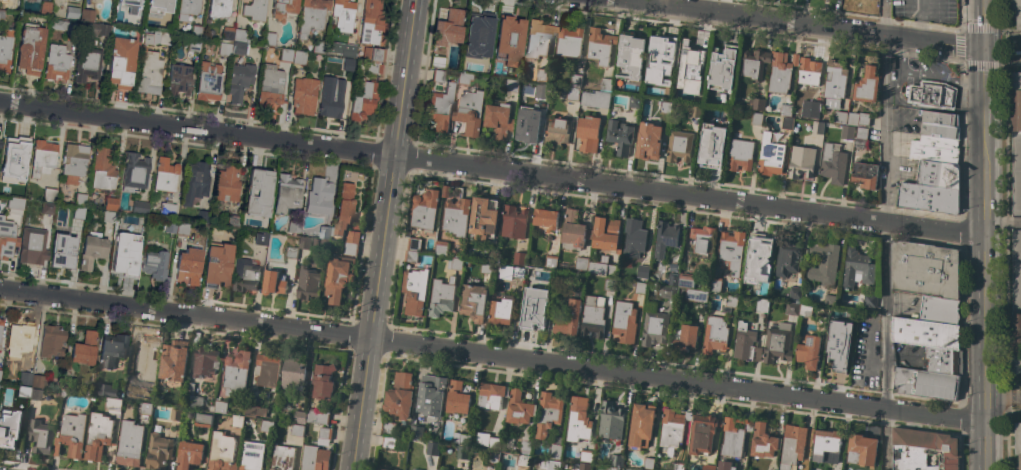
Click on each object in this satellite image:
building: (854, 0)
building: (870, 0)
building: (11, 4)
building: (131, 6)
building: (158, 6)
building: (189, 6)
building: (45, 7)
building: (219, 8)
building: (255, 9)
building: (283, 9)
building: (1016, 11)
building: (72, 12)
building: (87, 14)
building: (342, 15)
building: (312, 16)
road: (920, 21)
building: (372, 23)
road: (795, 25)
building: (62, 26)
building: (448, 27)
building: (94, 28)
building: (196, 28)
building: (234, 34)
building: (478, 35)
building: (156, 37)
building: (270, 38)
building: (538, 38)
building: (509, 39)
building: (569, 41)
building: (194, 44)
building: (600, 45)
building: (319, 46)
road: (998, 47)
building: (30, 48)
building: (232, 48)
building: (341, 48)
traffic signals: (981, 48)
road: (1018, 48)
building: (5, 49)
building: (660, 52)
building: (372, 53)
building: (286, 55)
road: (900, 56)
building: (299, 57)
building: (630, 57)
building: (437, 61)
building: (56, 62)
building: (121, 62)
building: (87, 63)
building: (347, 64)
building: (753, 64)
building: (374, 67)
building: (722, 68)
building: (690, 69)
building: (781, 72)
building: (148, 73)
building: (808, 73)
building: (540, 74)
building: (438, 75)
road: (406, 78)
building: (464, 78)
building: (178, 79)
building: (239, 80)
building: (575, 80)
building: (208, 81)
road: (891, 83)
building: (834, 84)
building: (511, 85)
building: (270, 86)
building: (866, 86)
road: (895, 87)
building: (541, 89)
building: (667, 91)
building: (304, 94)
building: (572, 94)
building: (598, 95)
building: (932, 95)
building: (331, 96)
building: (362, 98)
building: (634, 101)
building: (756, 104)
building: (440, 107)
building: (665, 107)
building: (810, 109)
building: (786, 110)
building: (696, 111)
building: (470, 112)
building: (839, 116)
building: (498, 118)
building: (858, 118)
building: (939, 118)
building: (757, 119)
building: (526, 120)
building: (787, 123)
building: (817, 127)
building: (938, 130)
building: (557, 132)
building: (847, 132)
building: (588, 133)
building: (620, 136)
building: (860, 137)
building: (1015, 141)
building: (0, 142)
building: (648, 142)
building: (679, 146)
building: (711, 146)
building: (934, 149)
building: (740, 155)
building: (770, 156)
building: (43, 157)
building: (14, 159)
building: (74, 160)
building: (801, 162)
building: (832, 163)
building: (103, 169)
road: (490, 169)
building: (134, 171)
building: (938, 173)
building: (165, 175)
building: (865, 175)
building: (195, 181)
building: (227, 183)
building: (445, 191)
building: (258, 192)
building: (287, 193)
building: (49, 194)
building: (319, 196)
building: (928, 198)
building: (80, 199)
building: (59, 200)
building: (15, 202)
building: (110, 203)
building: (47, 207)
building: (139, 207)
building: (343, 209)
building: (424, 210)
building: (171, 211)
building: (78, 212)
building: (108, 216)
building: (202, 216)
building: (456, 216)
building: (546, 218)
building: (483, 219)
building: (233, 220)
building: (513, 222)
building: (170, 225)
building: (293, 225)
building: (182, 228)
building: (574, 229)
building: (7, 232)
building: (213, 232)
building: (325, 232)
building: (606, 234)
road: (885, 235)
road: (981, 235)
building: (352, 237)
building: (261, 238)
building: (664, 238)
building: (702, 240)
building: (324, 241)
building: (633, 241)
building: (304, 242)
building: (32, 244)
building: (413, 244)
building: (92, 246)
building: (441, 247)
building: (62, 248)
building: (350, 248)
building: (731, 251)
building: (290, 252)
building: (126, 253)
building: (410, 256)
building: (437, 257)
building: (519, 258)
building: (787, 258)
building: (758, 260)
building: (550, 261)
building: (823, 262)
building: (580, 263)
building: (188, 264)
building: (454, 264)
building: (155, 265)
building: (217, 265)
building: (602, 267)
building: (674, 267)
building: (855, 267)
building: (486, 268)
building: (924, 270)
building: (511, 272)
building: (642, 272)
building: (245, 275)
building: (338, 277)
building: (673, 278)
building: (686, 281)
building: (273, 282)
building: (308, 284)
building: (609, 284)
building: (715, 284)
building: (639, 288)
building: (414, 291)
building: (667, 292)
building: (794, 292)
building: (696, 295)
building: (441, 296)
building: (870, 300)
building: (830, 301)
building: (473, 302)
building: (1016, 302)
building: (729, 303)
building: (761, 305)
building: (500, 308)
building: (534, 308)
building: (791, 308)
building: (939, 310)
building: (805, 311)
road: (375, 313)
building: (591, 318)
building: (567, 320)
building: (624, 322)
building: (0, 326)
building: (654, 328)
building: (926, 333)
building: (714, 335)
building: (685, 337)
building: (19, 338)
building: (51, 340)
building: (745, 343)
building: (777, 343)
building: (837, 344)
building: (84, 348)
building: (112, 348)
building: (808, 351)
building: (144, 353)
road: (491, 355)
building: (939, 359)
building: (204, 361)
building: (173, 362)
building: (266, 369)
building: (0, 371)
building: (293, 372)
building: (236, 373)
building: (25, 377)
building: (37, 380)
building: (323, 381)
building: (924, 382)
building: (66, 387)
building: (23, 390)
building: (106, 390)
building: (127, 393)
building: (35, 394)
building: (57, 394)
building: (431, 394)
building: (400, 395)
building: (491, 395)
building: (192, 397)
building: (457, 398)
road: (1002, 399)
building: (113, 405)
building: (219, 407)
building: (146, 408)
building: (519, 408)
building: (254, 410)
building: (176, 413)
building: (548, 413)
building: (318, 415)
building: (300, 416)
building: (204, 418)
building: (579, 418)
building: (237, 421)
building: (610, 421)
building: (9, 424)
building: (266, 425)
building: (641, 426)
building: (388, 428)
building: (672, 428)
building: (297, 430)
building: (416, 432)
building: (703, 433)
building: (71, 435)
building: (40, 436)
building: (98, 436)
building: (324, 436)
building: (733, 436)
road: (1004, 439)
building: (488, 441)
building: (763, 441)
building: (388, 442)
building: (130, 443)
building: (1017, 443)
building: (462, 444)
building: (525, 445)
building: (826, 445)
building: (792, 446)
building: (431, 448)
building: (863, 449)
building: (159, 450)
building: (555, 450)
building: (924, 450)
building: (222, 452)
building: (190, 455)
building: (583, 455)
building: (252, 456)
building: (283, 456)
building: (493, 457)
building: (315, 458)
building: (523, 460)
building: (616, 460)
building: (647, 463)
building: (553, 464)
building: (677, 465)
building: (724, 465)
building: (584, 466)
building: (707, 467)
building: (612, 468)
building: (381, 469)
building: (390, 469)
building: (393, 469)
building: (415, 469)
building: (436, 469)
building: (440, 469)

